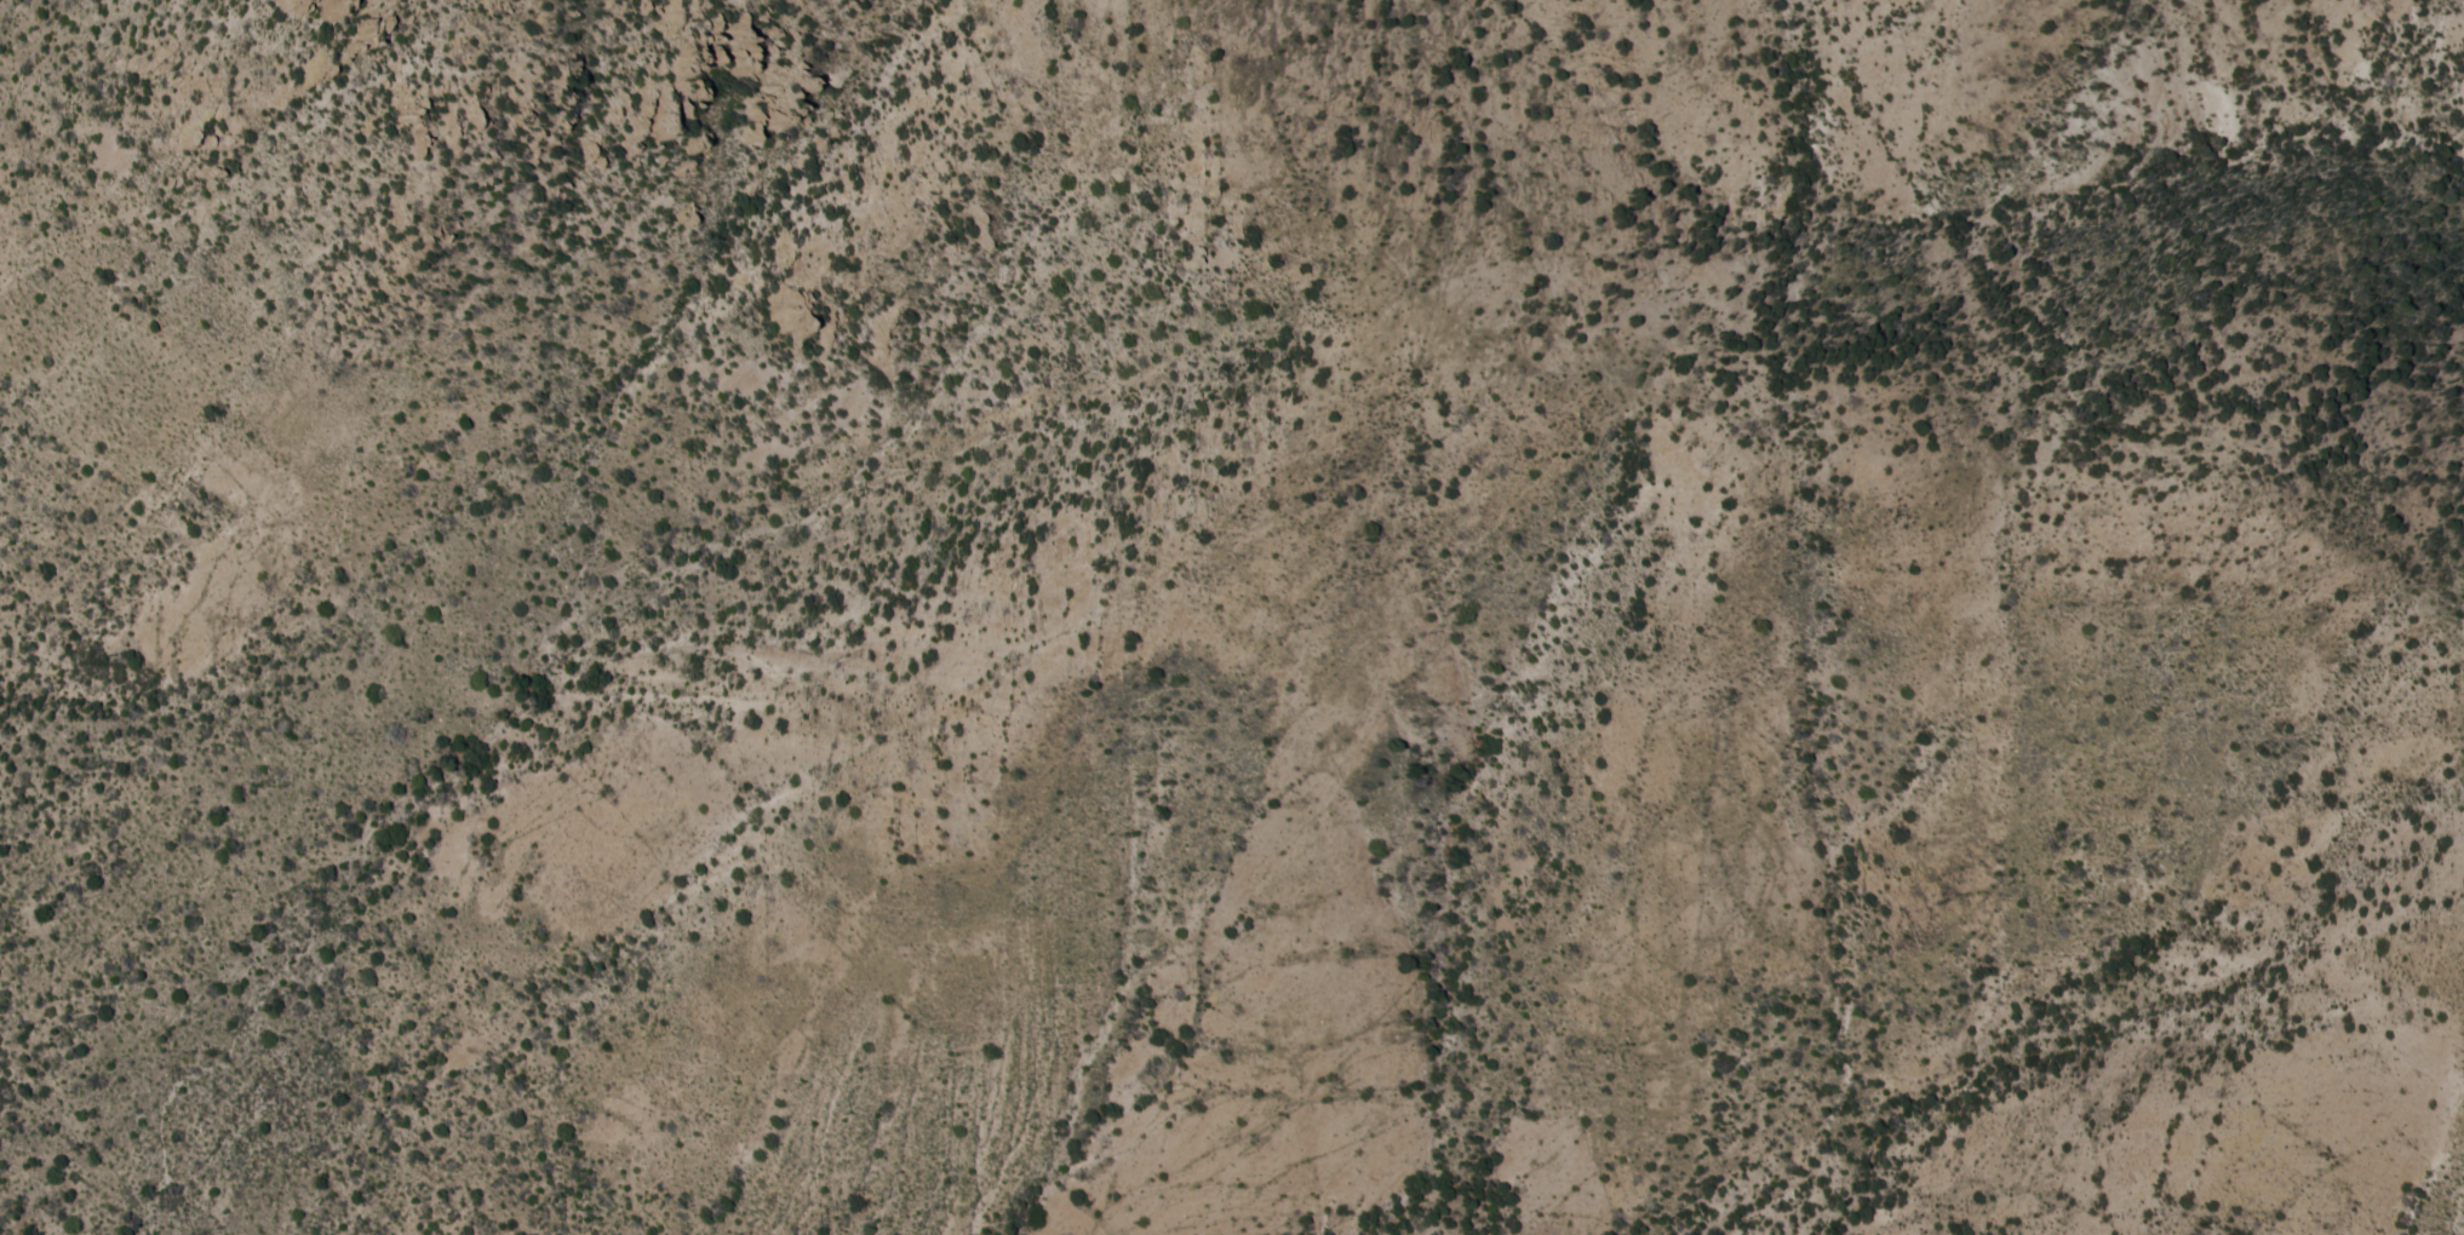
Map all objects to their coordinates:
road: (2462, 1)

